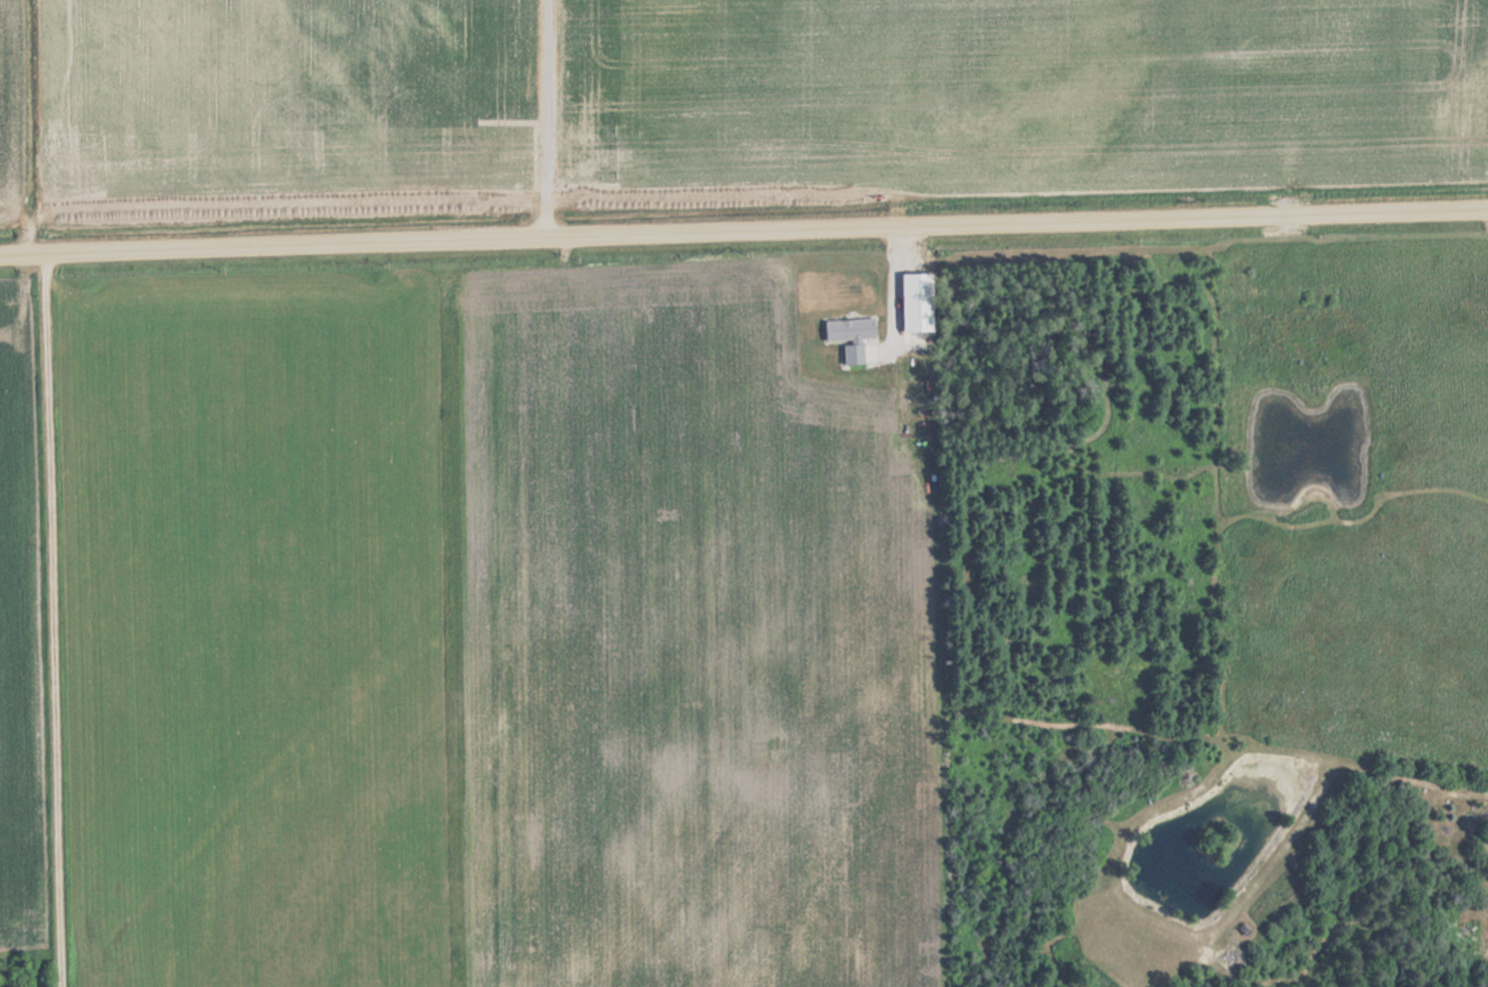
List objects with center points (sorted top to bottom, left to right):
road: (544, 121)
road: (743, 236)
building: (910, 301)
building: (849, 336)

